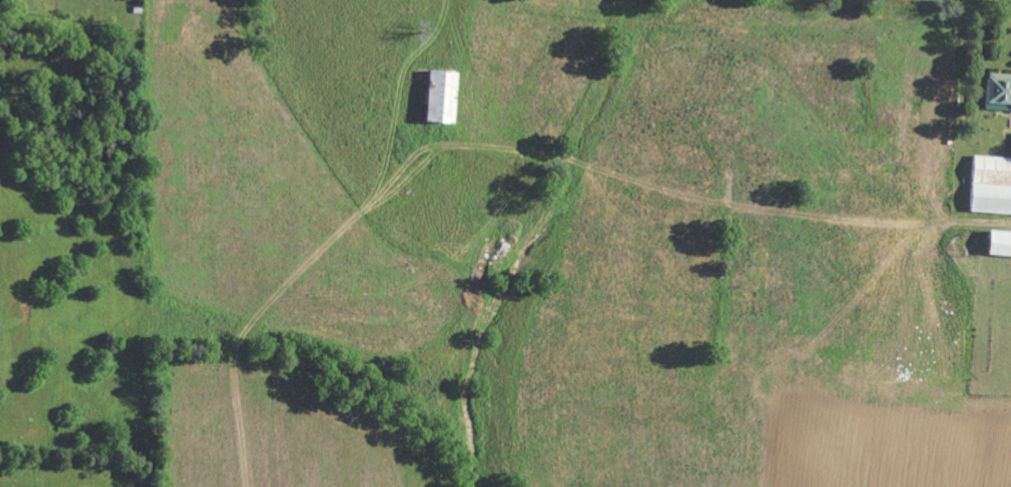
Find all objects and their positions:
building: (1000, 92)
building: (447, 98)
building: (1002, 245)

